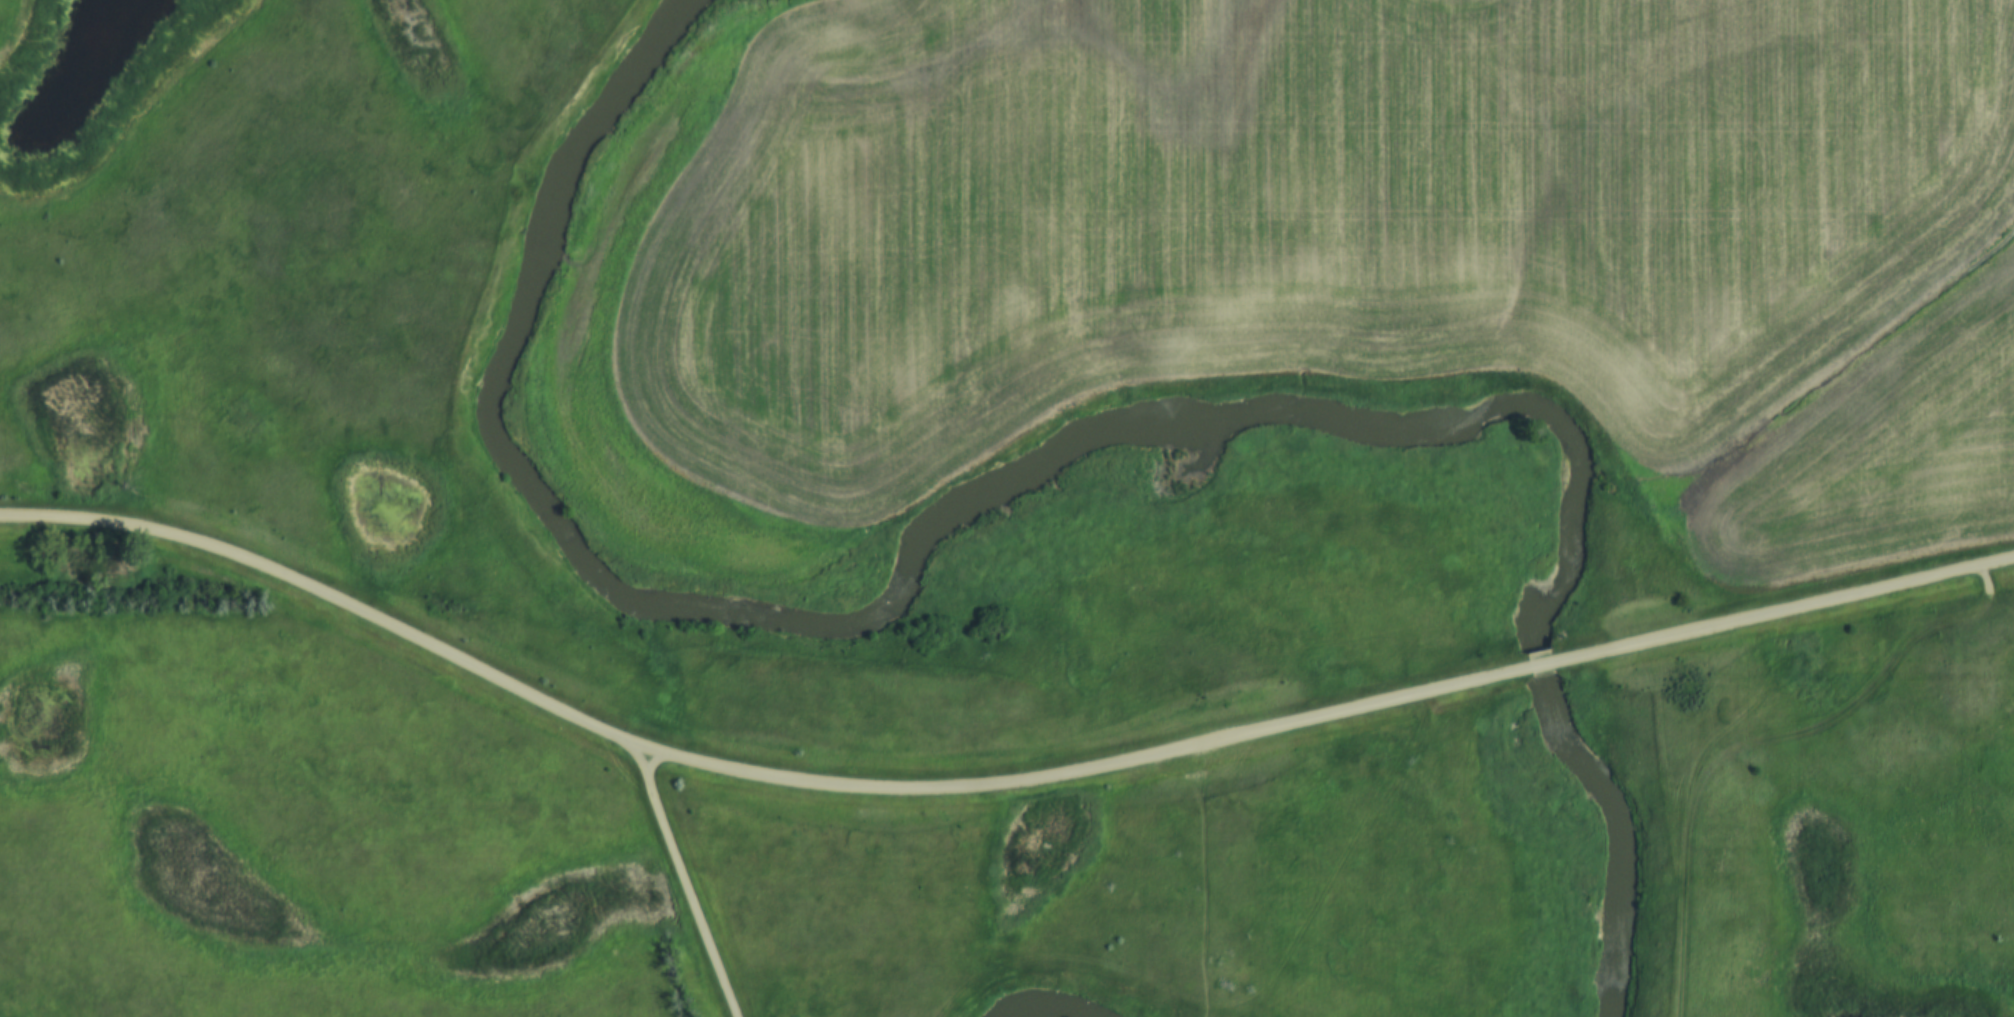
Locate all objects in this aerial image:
road: (1781, 615)
river: (829, 637)
road: (1538, 672)
river: (1569, 772)
road: (744, 777)
road: (684, 879)

